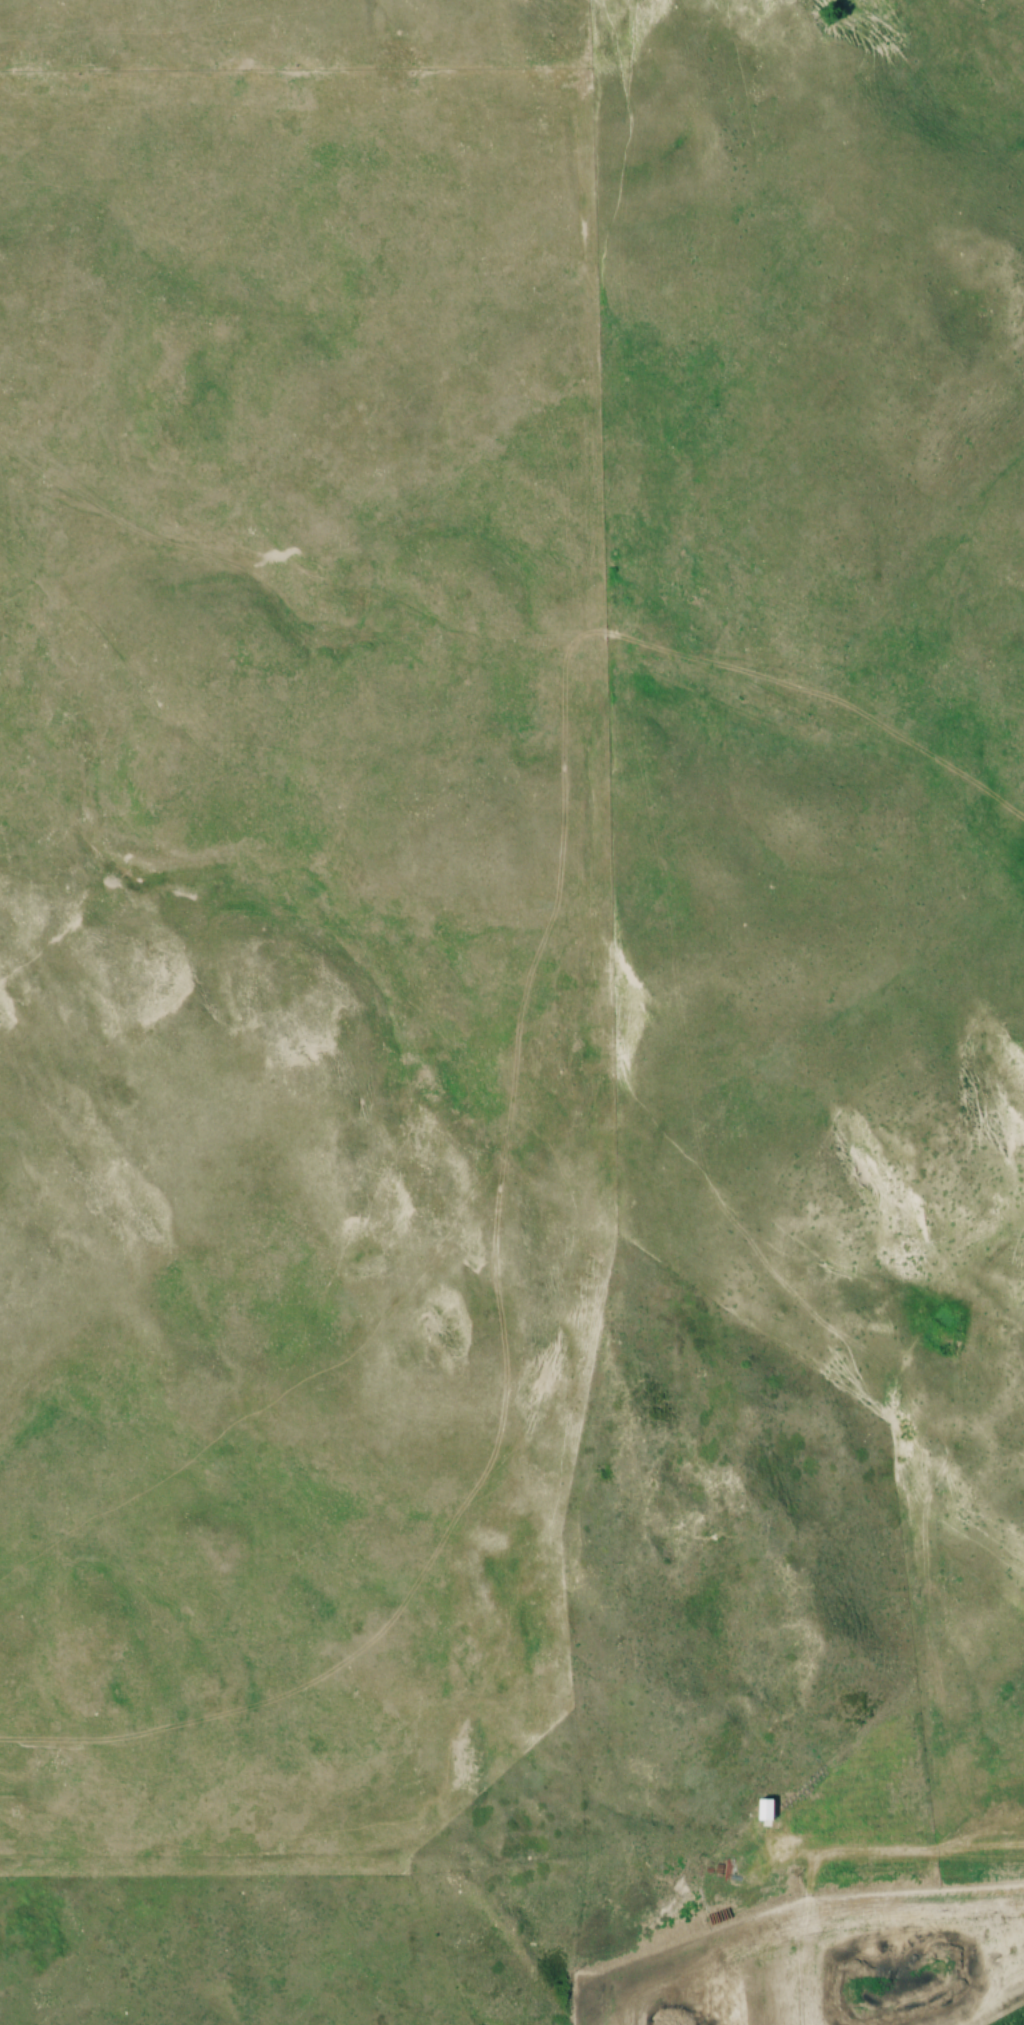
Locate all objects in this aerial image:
building: (764, 1812)
road: (952, 1844)

